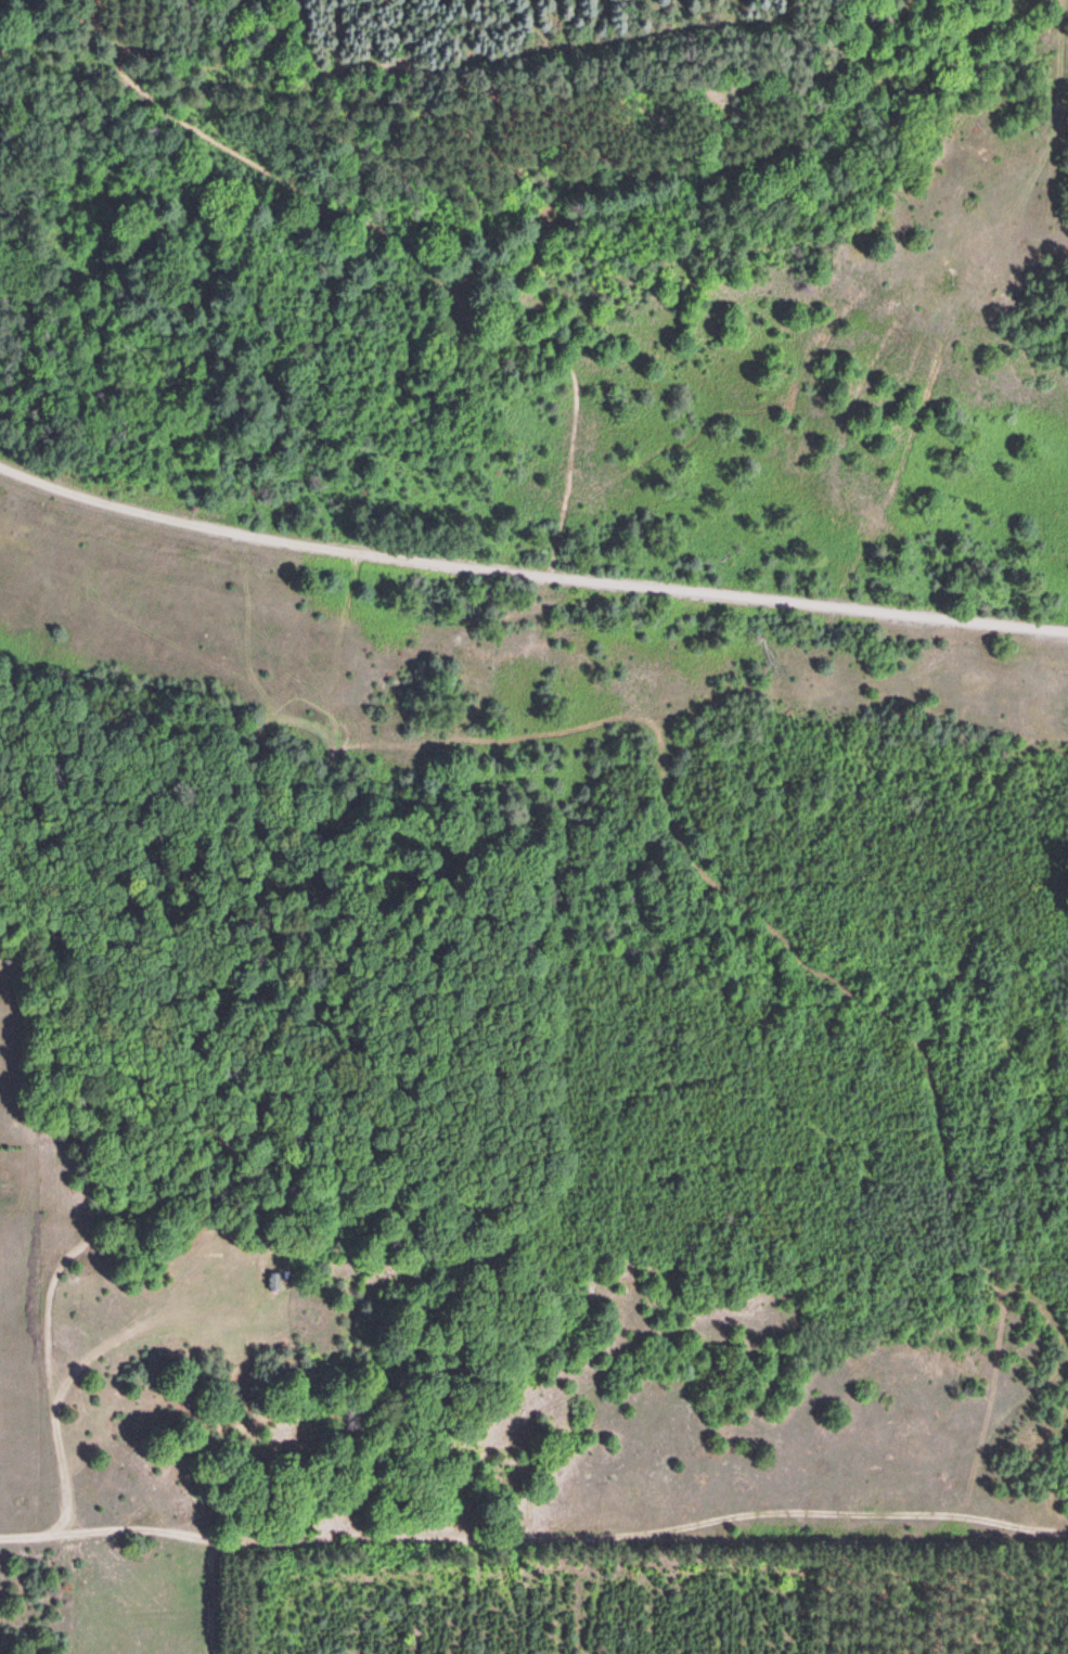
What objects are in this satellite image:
road: (383, 233)
road: (528, 572)
road: (535, 1534)

